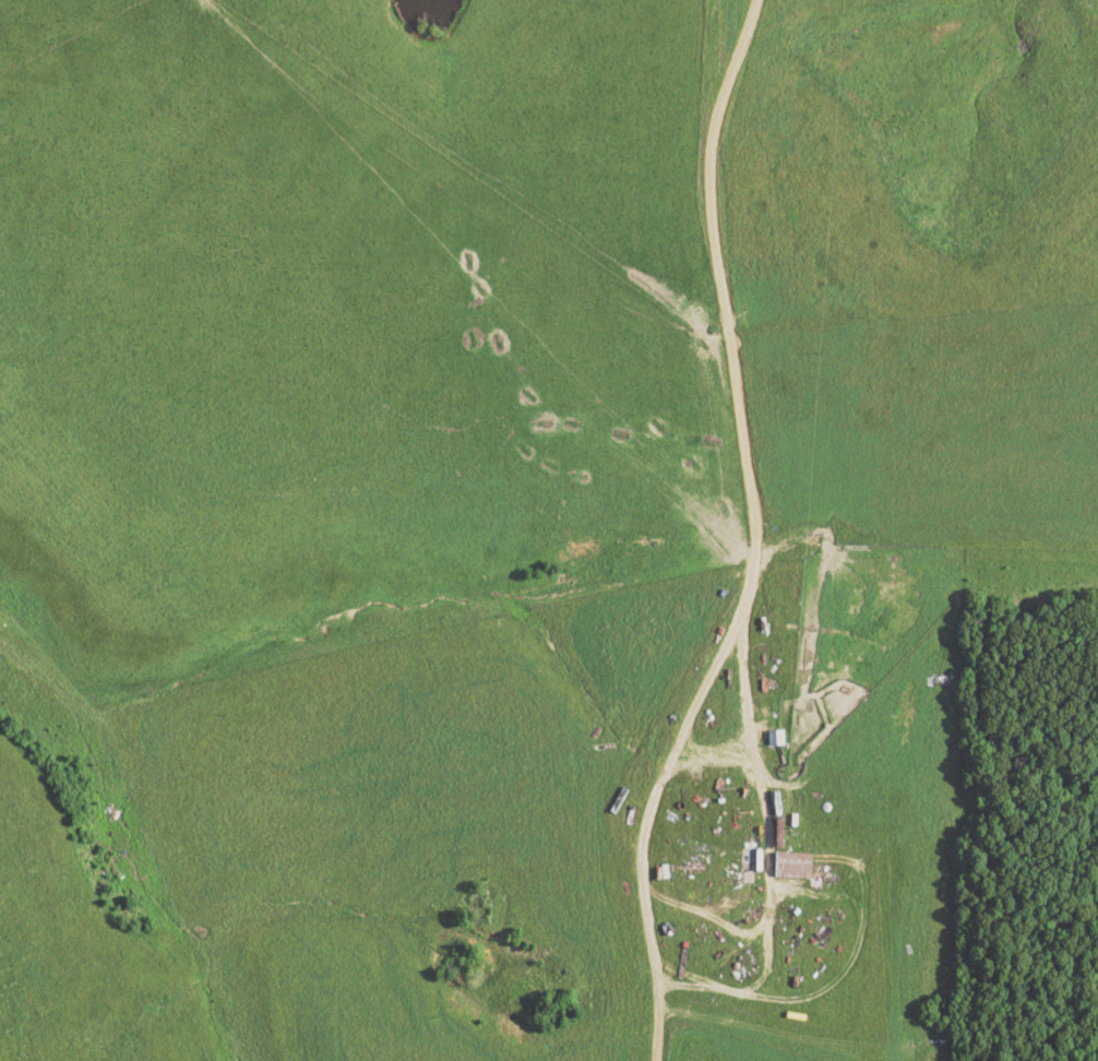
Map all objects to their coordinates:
road: (717, 311)
building: (774, 738)
road: (647, 849)
building: (756, 860)
building: (790, 867)

